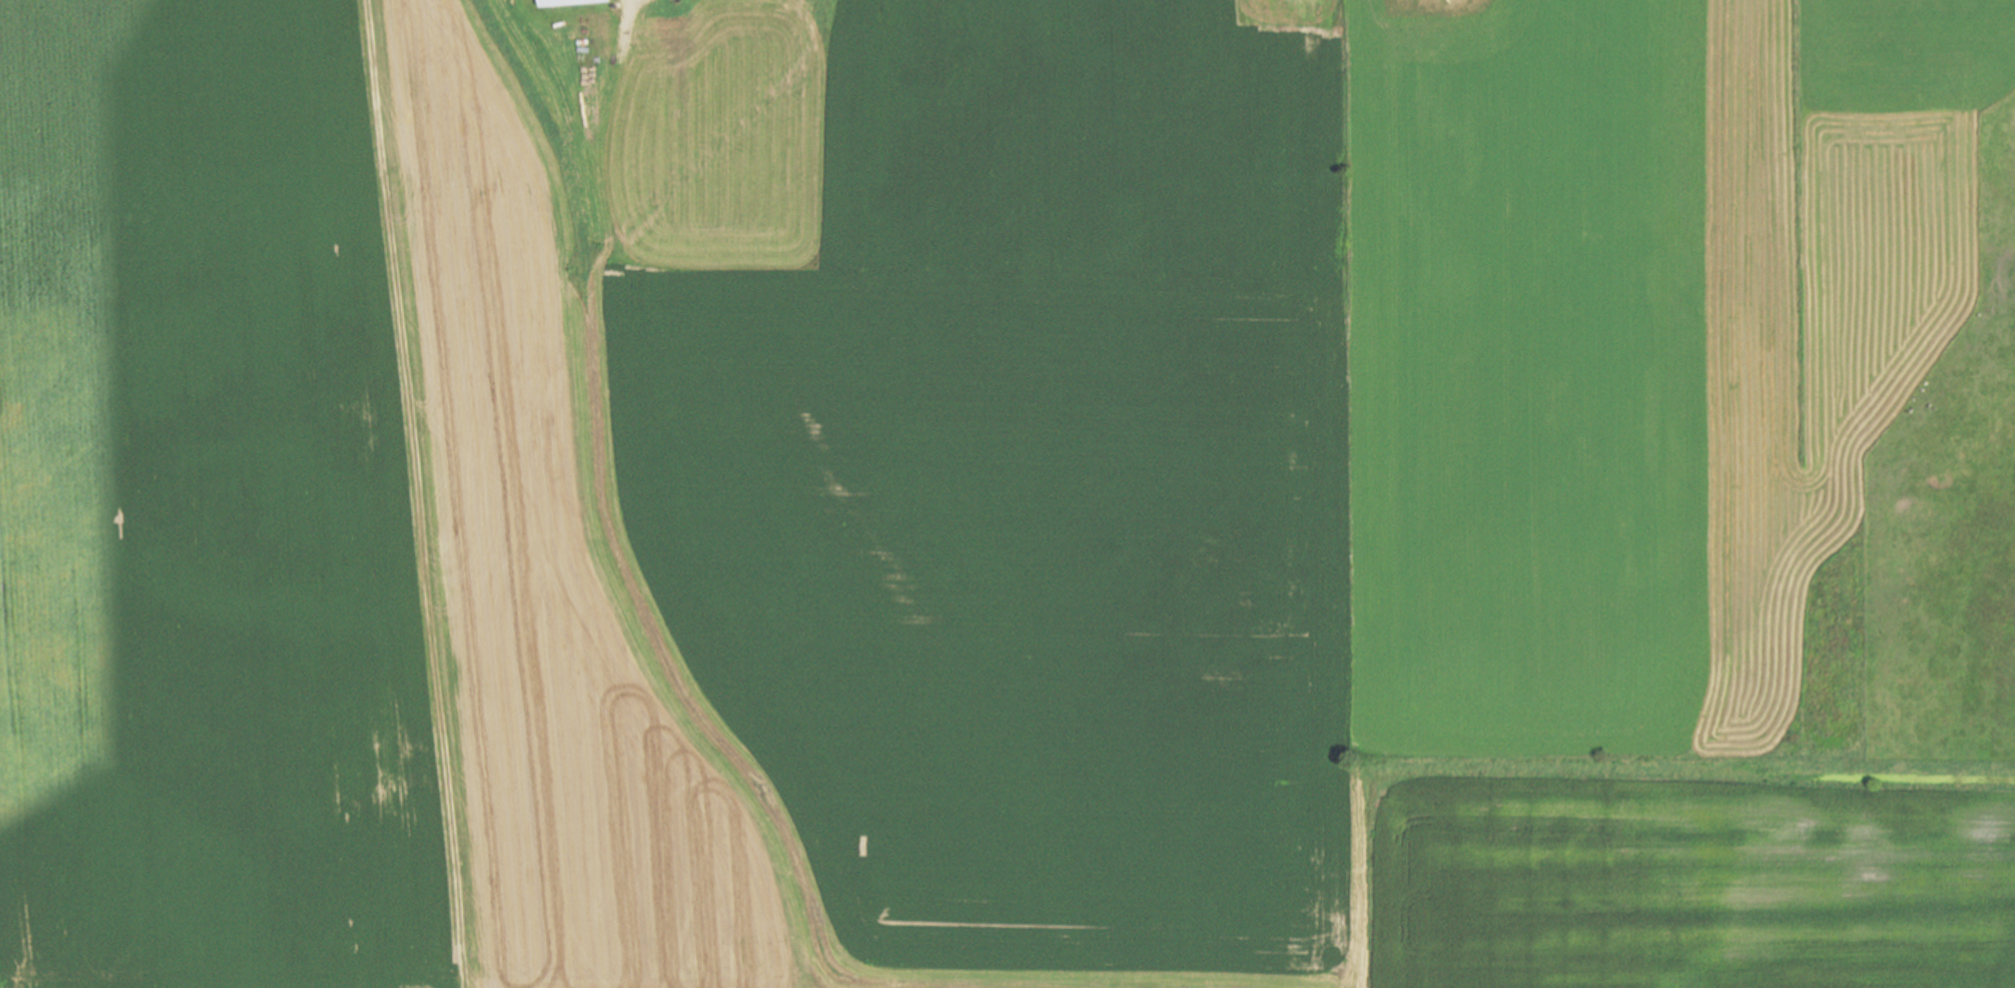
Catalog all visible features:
building: (567, 1)

